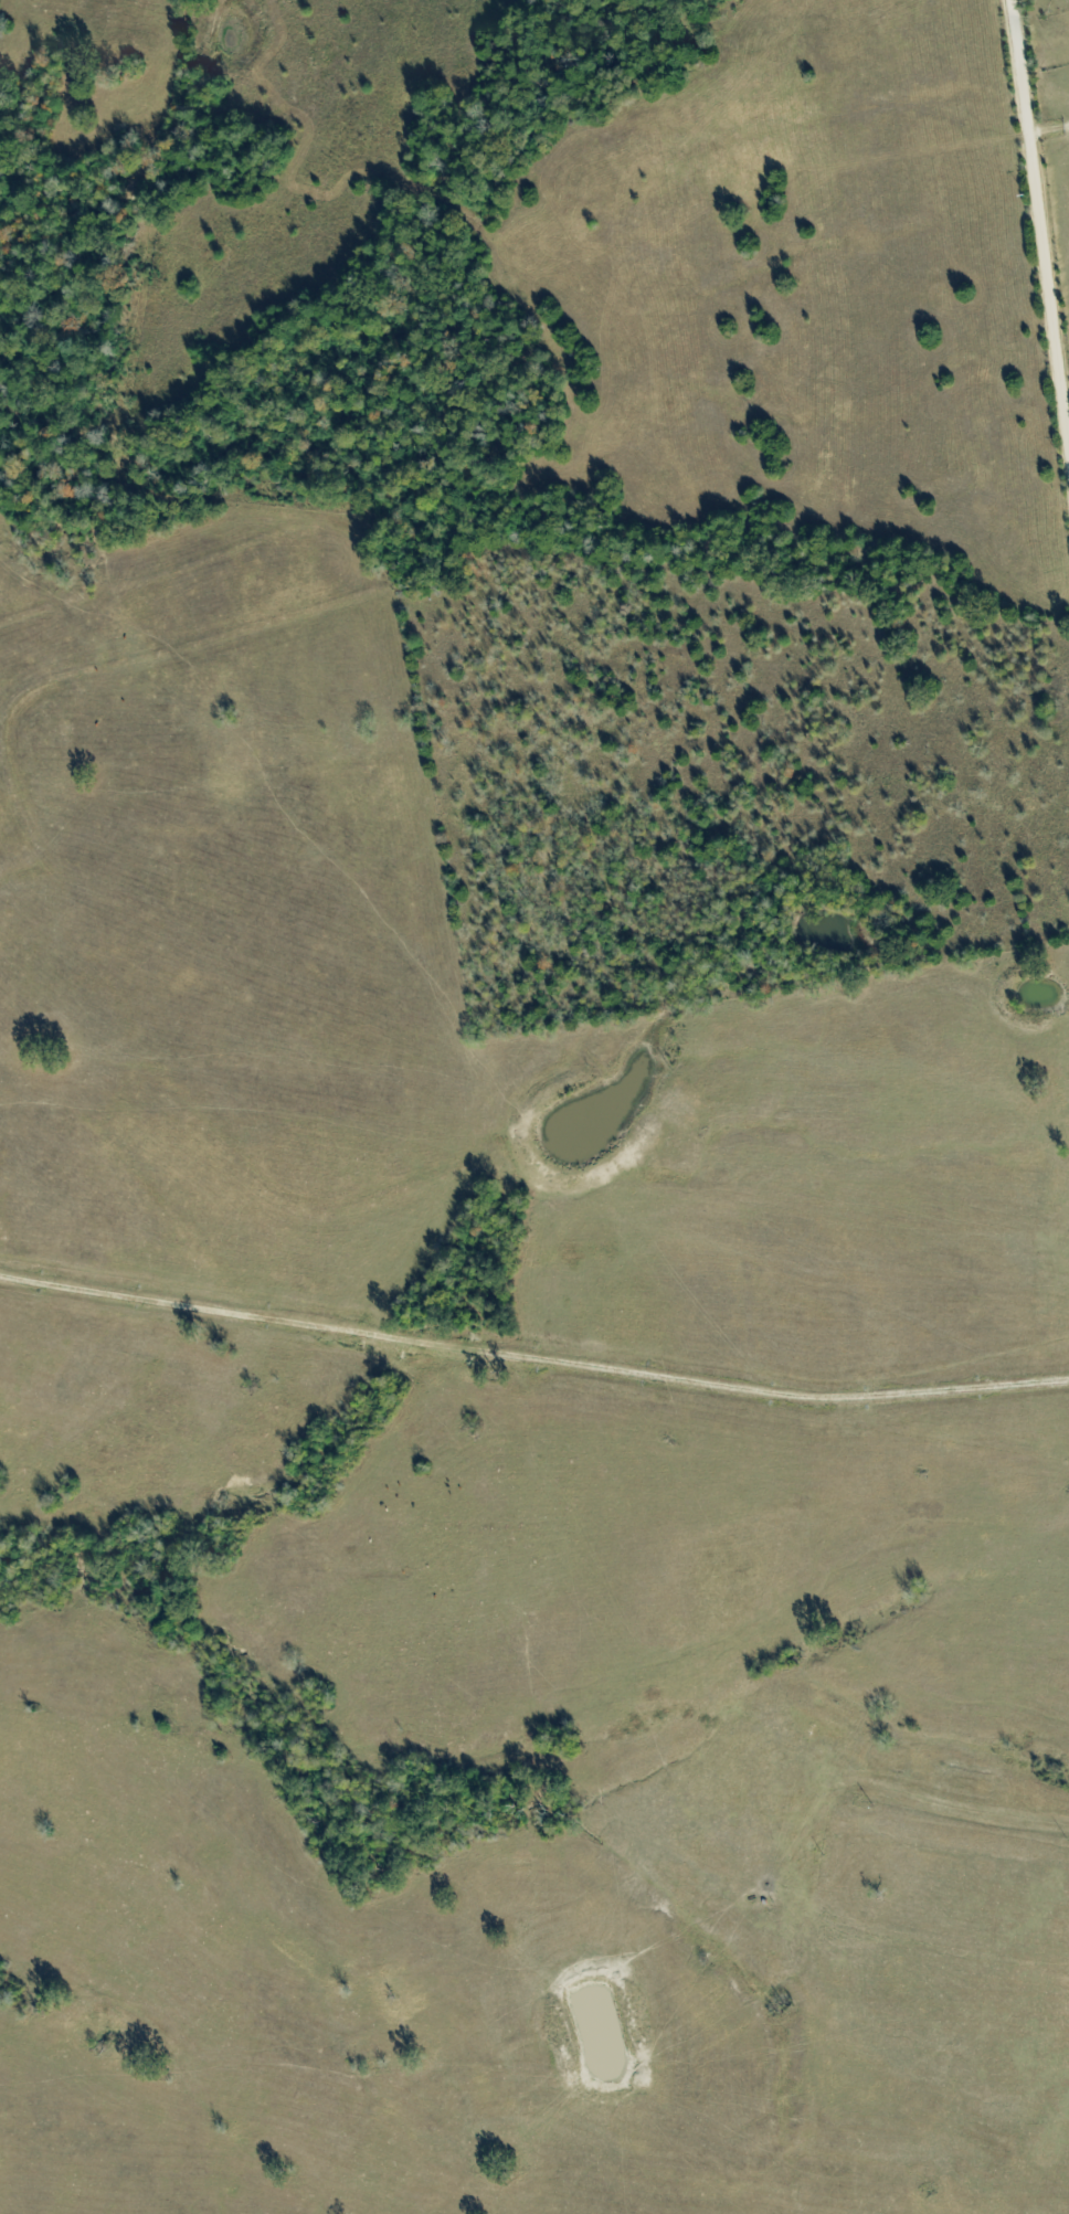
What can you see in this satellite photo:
road: (1050, 129)
road: (1041, 218)

